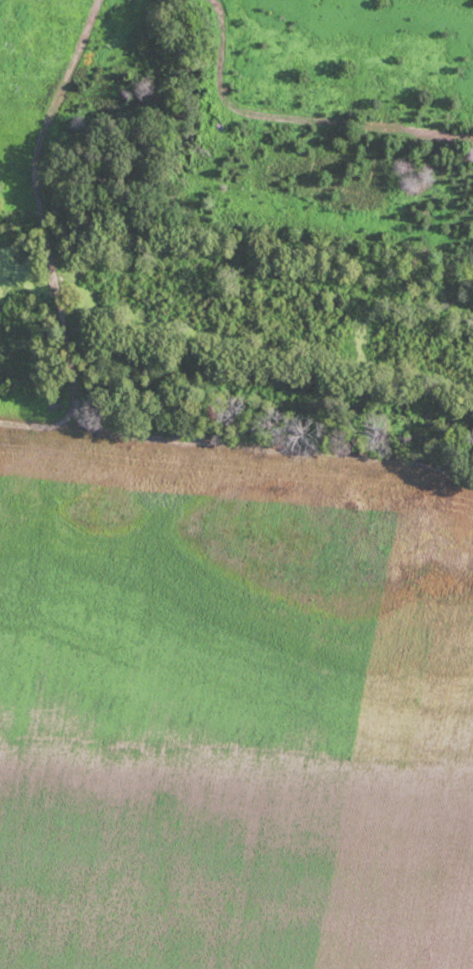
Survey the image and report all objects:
road: (44, 238)

